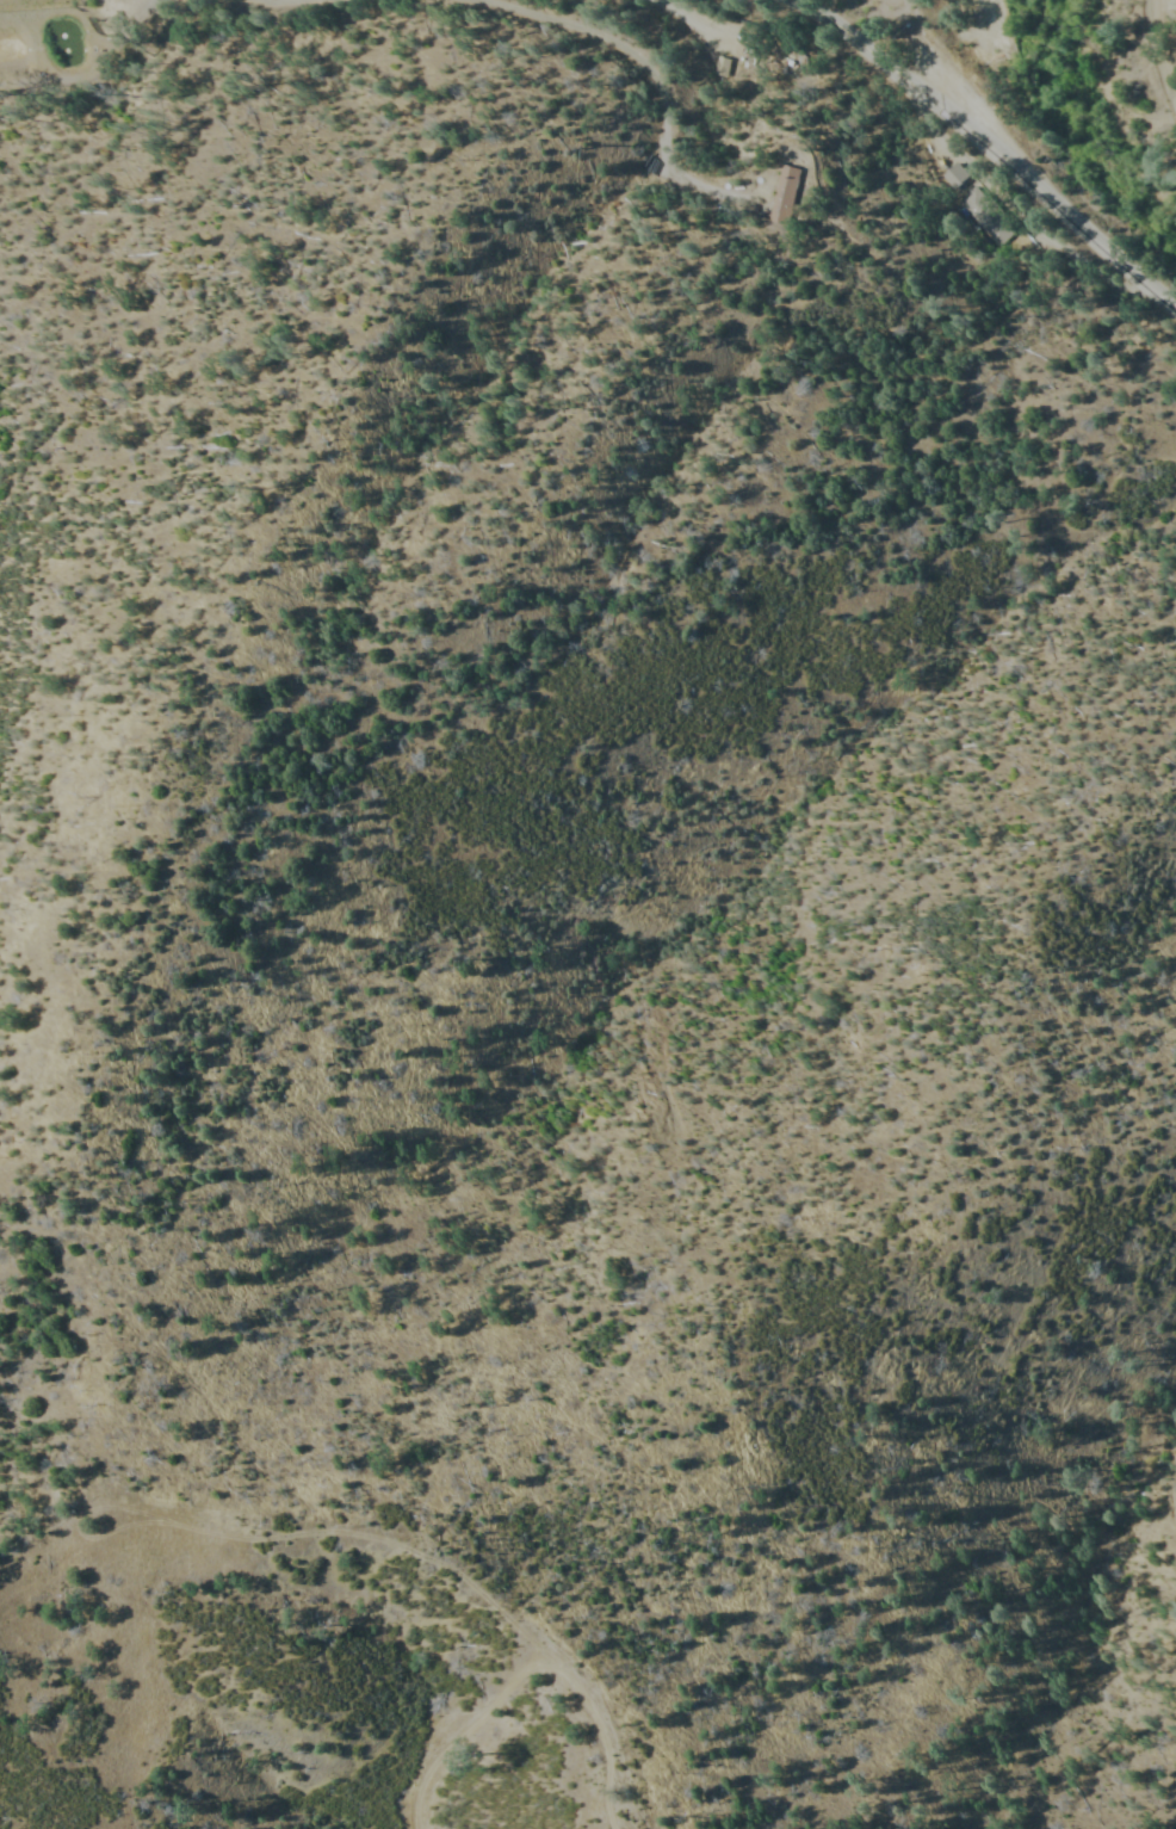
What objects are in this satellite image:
road: (904, 37)
road: (1159, 47)
road: (1101, 123)
road: (988, 142)
building: (954, 178)
building: (786, 194)
road: (1010, 204)
building: (986, 212)

